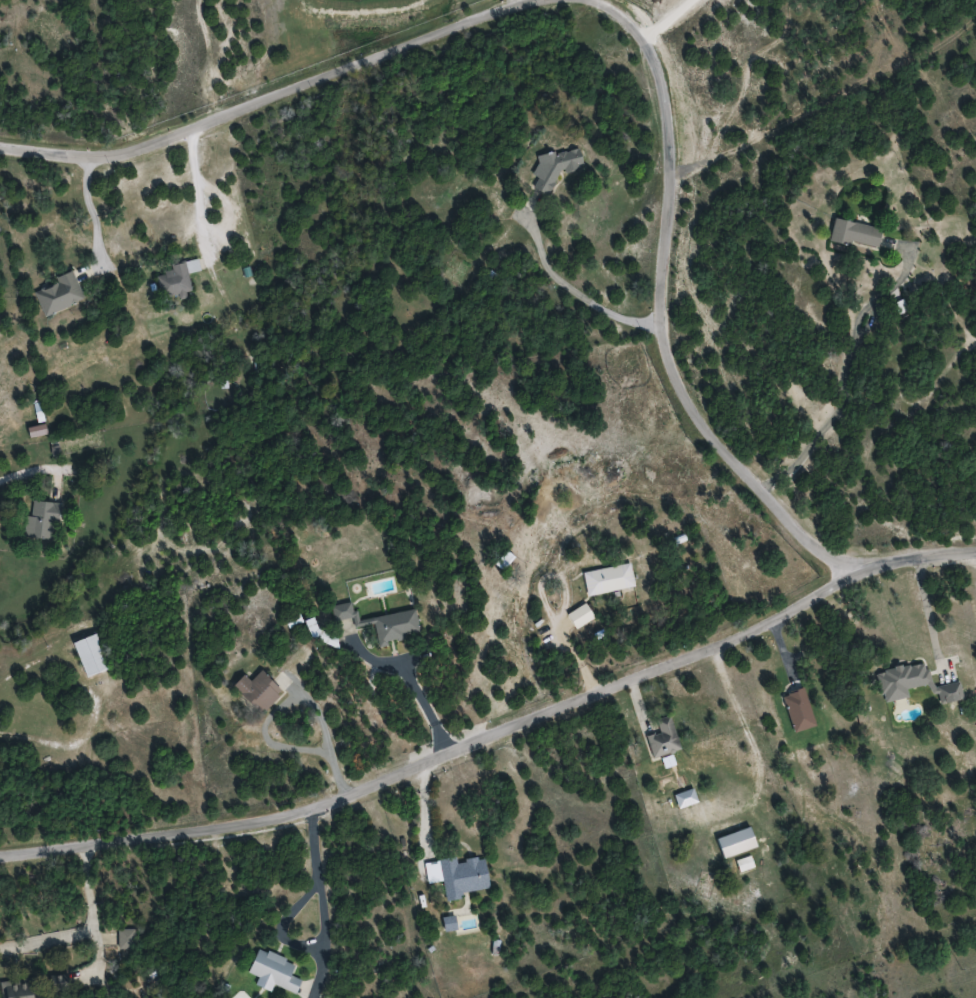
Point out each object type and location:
road: (263, 99)
building: (549, 169)
building: (854, 233)
building: (175, 278)
building: (57, 293)
road: (666, 313)
building: (40, 520)
road: (924, 552)
building: (607, 579)
building: (578, 616)
building: (291, 621)
building: (88, 655)
building: (912, 683)
building: (255, 691)
building: (661, 738)
road: (450, 750)
building: (683, 798)
building: (733, 842)
building: (455, 875)
building: (124, 938)
building: (271, 972)
building: (57, 986)
building: (17, 989)

